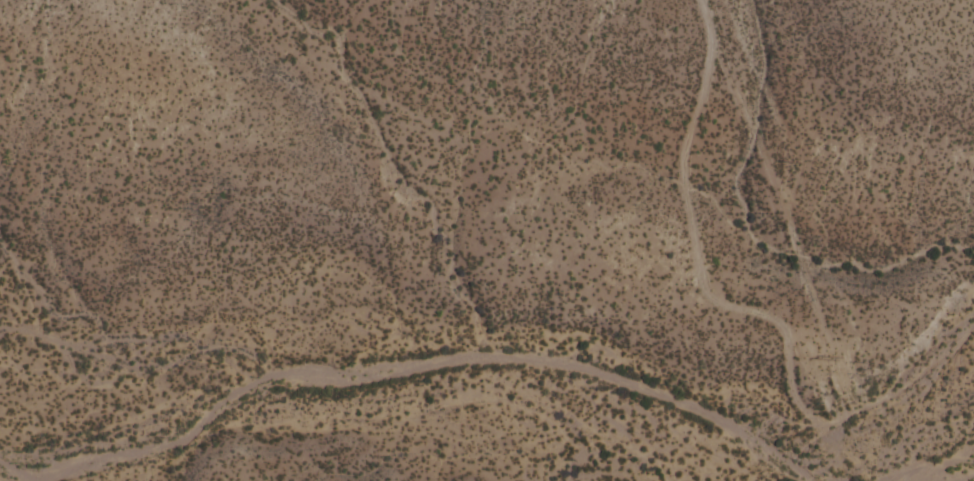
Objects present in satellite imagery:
road: (701, 275)

